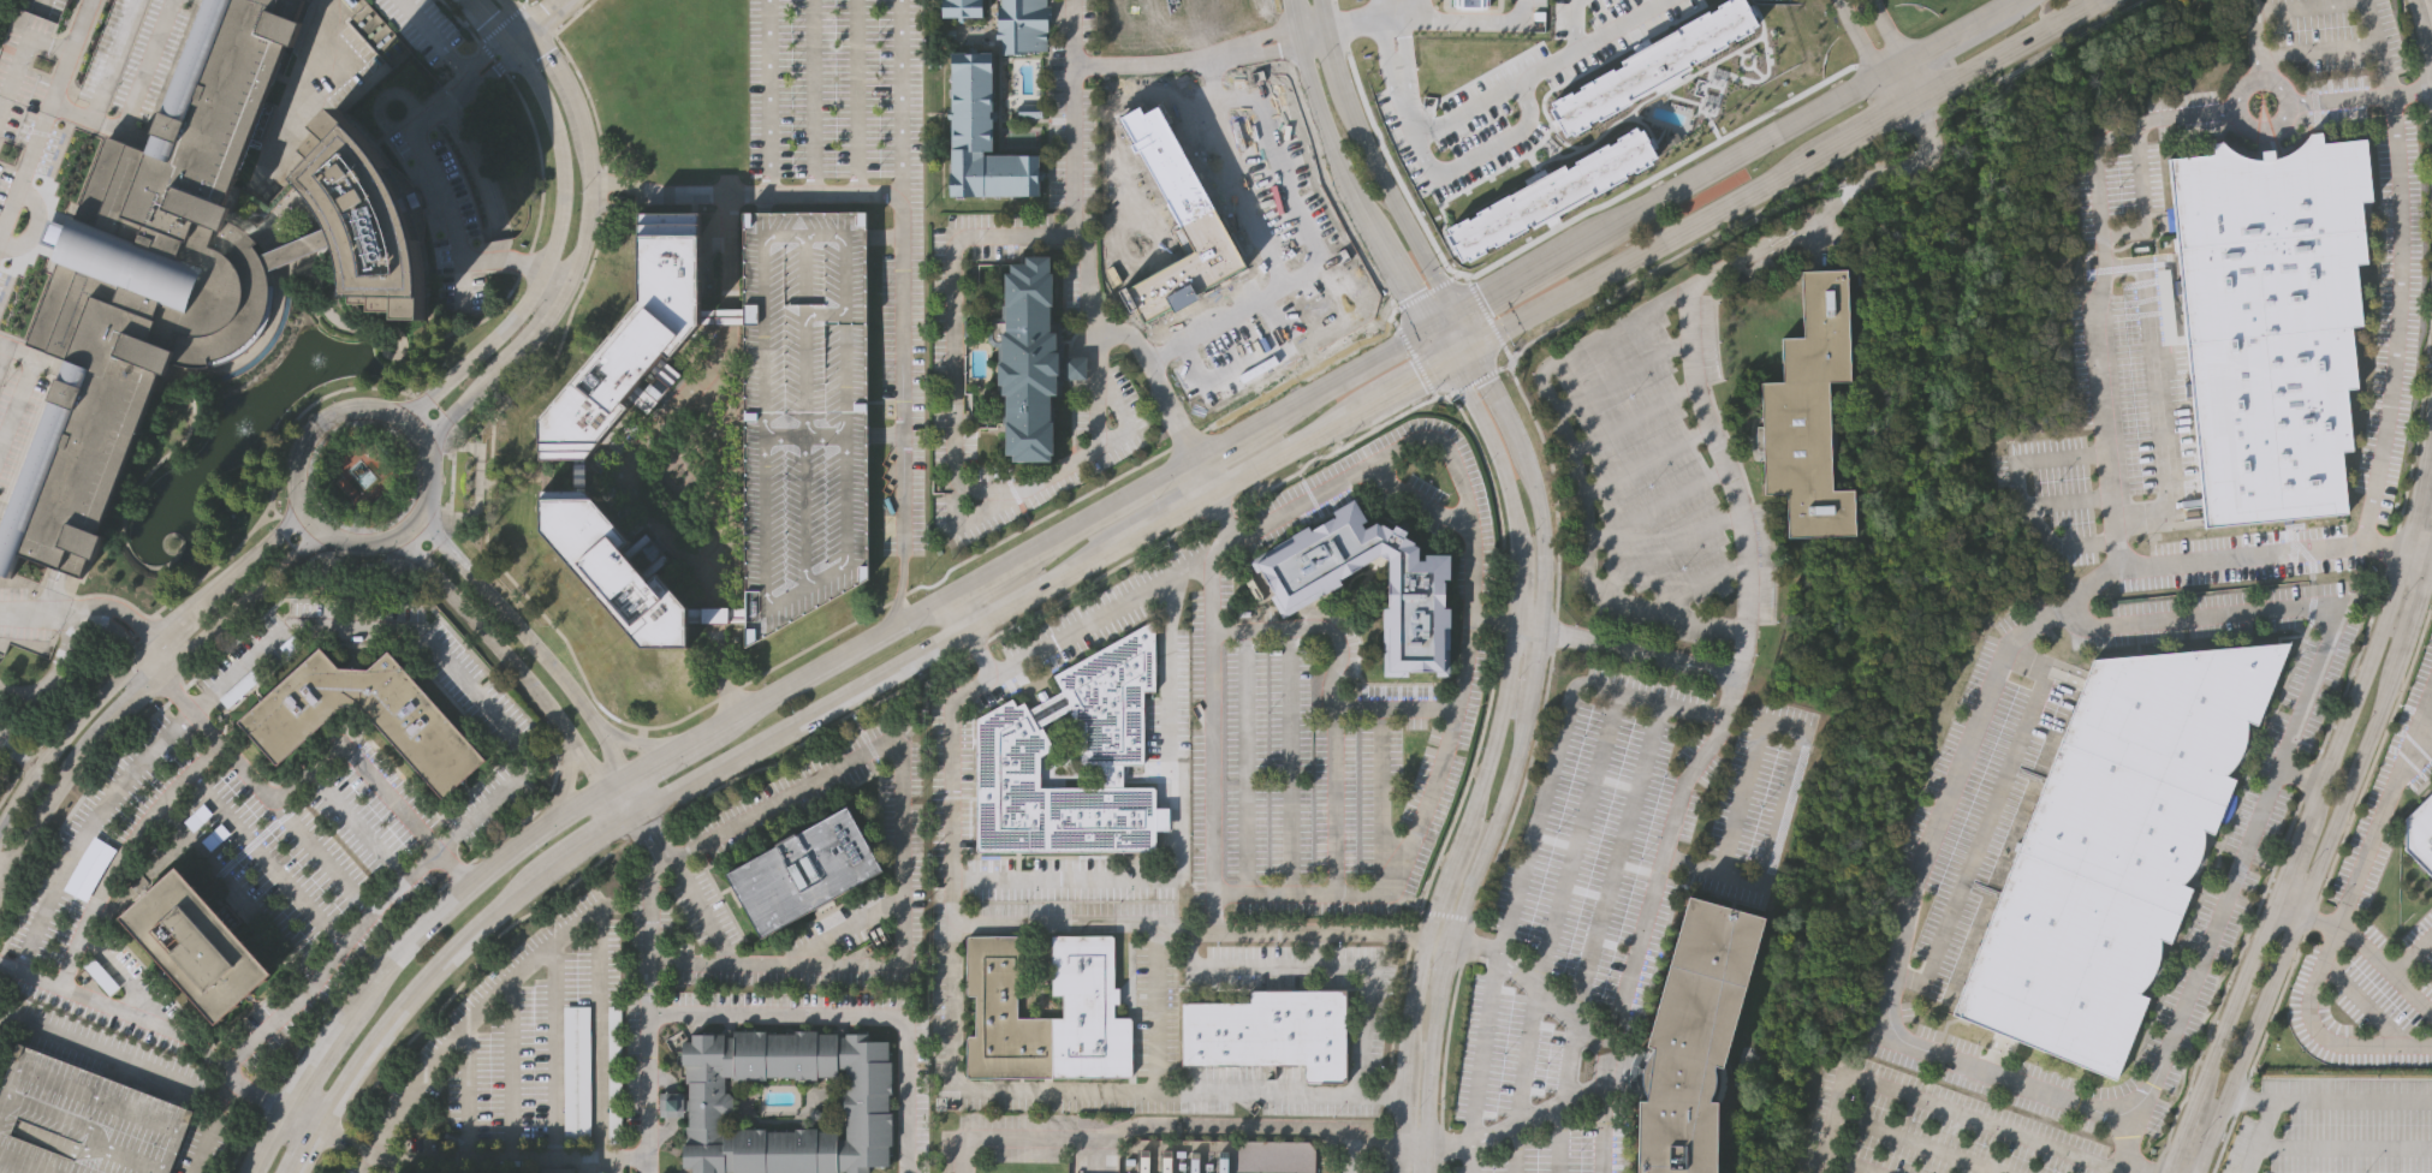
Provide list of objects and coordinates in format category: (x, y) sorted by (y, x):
road: (525, 1)
road: (2354, 2)
building: (961, 8)
road: (1381, 10)
road: (1421, 10)
road: (1997, 11)
road: (1289, 12)
road: (516, 13)
road: (545, 14)
road: (1327, 14)
road: (572, 16)
road: (540, 18)
road: (494, 20)
road: (1433, 20)
road: (501, 22)
road: (1339, 24)
road: (1613, 24)
building: (1021, 25)
road: (1312, 26)
road: (2424, 28)
road: (1892, 30)
road: (519, 35)
road: (1261, 35)
road: (2253, 35)
road: (1295, 36)
road: (1860, 38)
road: (1314, 40)
road: (1945, 40)
road: (434, 41)
road: (19, 44)
road: (528, 50)
road: (66, 52)
road: (1266, 52)
road: (1337, 53)
building: (1652, 60)
road: (1153, 62)
street lamp: (1315, 64)
road: (1896, 67)
road: (1921, 73)
road: (769, 81)
road: (137, 82)
parking lot: (836, 88)
road: (1890, 90)
road: (298, 91)
road: (814, 96)
road: (855, 96)
road: (2355, 99)
road: (900, 100)
road: (1464, 107)
road: (66, 111)
road: (1316, 114)
road: (2265, 127)
building: (982, 133)
road: (1736, 157)
road: (1491, 168)
road: (1779, 171)
street lamp: (1367, 180)
road: (439, 181)
road: (622, 185)
road: (1397, 197)
road: (2140, 198)
road: (622, 201)
road: (1832, 203)
road: (1363, 213)
building: (371, 222)
road: (725, 248)
road: (1087, 251)
road: (554, 254)
road: (581, 256)
street lamp: (1417, 270)
road: (1523, 276)
building: (150, 279)
road: (1405, 291)
road: (902, 294)
building: (726, 311)
road: (729, 311)
traffic signals: (1455, 316)
road: (1487, 318)
building: (2271, 320)
road: (1441, 323)
road: (1462, 331)
traffic signals: (1428, 332)
building: (637, 337)
traffic signals: (1469, 345)
traffic signals: (1444, 358)
building: (1031, 362)
road: (1489, 383)
road: (1334, 385)
road: (370, 387)
road: (2155, 392)
building: (804, 407)
parking garage: (804, 407)
building: (1808, 410)
road: (1529, 412)
road: (1124, 415)
road: (326, 422)
road: (886, 436)
road: (956, 436)
road: (1219, 448)
road: (718, 460)
road: (1452, 462)
road: (626, 475)
road: (1578, 475)
road: (2017, 486)
road: (1419, 500)
road: (1209, 502)
road: (1107, 511)
road: (279, 516)
road: (967, 518)
road: (314, 519)
road: (415, 523)
road: (1541, 523)
road: (1185, 526)
road: (2379, 547)
road: (2415, 556)
road: (2180, 559)
road: (2431, 561)
building: (616, 567)
road: (225, 576)
road: (982, 579)
road: (1056, 580)
building: (1303, 588)
road: (244, 597)
road: (2374, 603)
building: (718, 613)
road: (718, 613)
road: (75, 614)
road: (1493, 618)
road: (1529, 625)
road: (527, 643)
road: (429, 645)
road: (1639, 651)
road: (154, 654)
road: (506, 659)
road: (828, 665)
road: (1535, 666)
road: (578, 667)
road: (718, 671)
road: (173, 695)
road: (1330, 702)
road: (1393, 708)
road: (64, 725)
road: (1209, 727)
road: (2288, 732)
road: (1717, 734)
building: (430, 738)
building: (1009, 738)
road: (636, 744)
road: (1491, 746)
road: (17, 751)
road: (668, 754)
road: (1790, 760)
road: (2413, 762)
road: (317, 763)
road: (1290, 763)
road: (1245, 764)
road: (19, 772)
road: (70, 772)
road: (2299, 773)
road: (566, 781)
road: (618, 781)
road: (552, 785)
road: (635, 793)
road: (623, 800)
road: (2314, 800)
road: (1380, 803)
road: (1986, 812)
road: (66, 814)
road: (1492, 822)
road: (358, 827)
road: (1553, 830)
building: (2421, 832)
road: (1571, 834)
road: (599, 838)
road: (82, 839)
road: (1530, 839)
road: (902, 840)
building: (2116, 846)
road: (121, 852)
road: (320, 857)
road: (267, 859)
road: (5, 865)
road: (2317, 865)
building: (804, 871)
road: (1096, 881)
road: (462, 897)
road: (2288, 907)
road: (2341, 912)
road: (1899, 913)
road: (1446, 915)
road: (1063, 922)
road: (1313, 931)
building: (200, 946)
road: (652, 948)
road: (2372, 954)
road: (2413, 957)
road: (1444, 961)
road: (1354, 966)
road: (424, 983)
road: (1534, 983)
road: (307, 988)
building: (1088, 1011)
road: (130, 1013)
road: (852, 1013)
road: (472, 1017)
road: (597, 1030)
building: (1269, 1032)
building: (1691, 1038)
road: (554, 1048)
road: (109, 1050)
road: (1429, 1065)
road: (648, 1067)
road: (313, 1068)
road: (126, 1070)
road: (510, 1070)
building: (576, 1071)
parking lot: (576, 1071)
building: (614, 1072)
parking lot: (614, 1072)
road: (468, 1090)
road: (967, 1090)
road: (1171, 1092)
road: (232, 1094)
road: (2252, 1100)
road: (2314, 1101)
building: (691, 1106)
road: (1974, 1114)
road: (303, 1118)
building: (83, 1120)
parking garage: (83, 1120)
road: (1831, 1123)
road: (1165, 1125)
road: (1516, 1125)
road: (209, 1137)
road: (270, 1139)
road: (1556, 1141)
road: (1929, 1142)
road: (1414, 1145)
road: (308, 1150)
road: (1349, 1154)
building: (1218, 1156)
road: (478, 1157)
road: (1426, 1159)
road: (1469, 1159)
road: (367, 1163)
road: (1859, 1163)
road: (588, 1165)
building: (558, 1171)
road: (2130, 1172)

